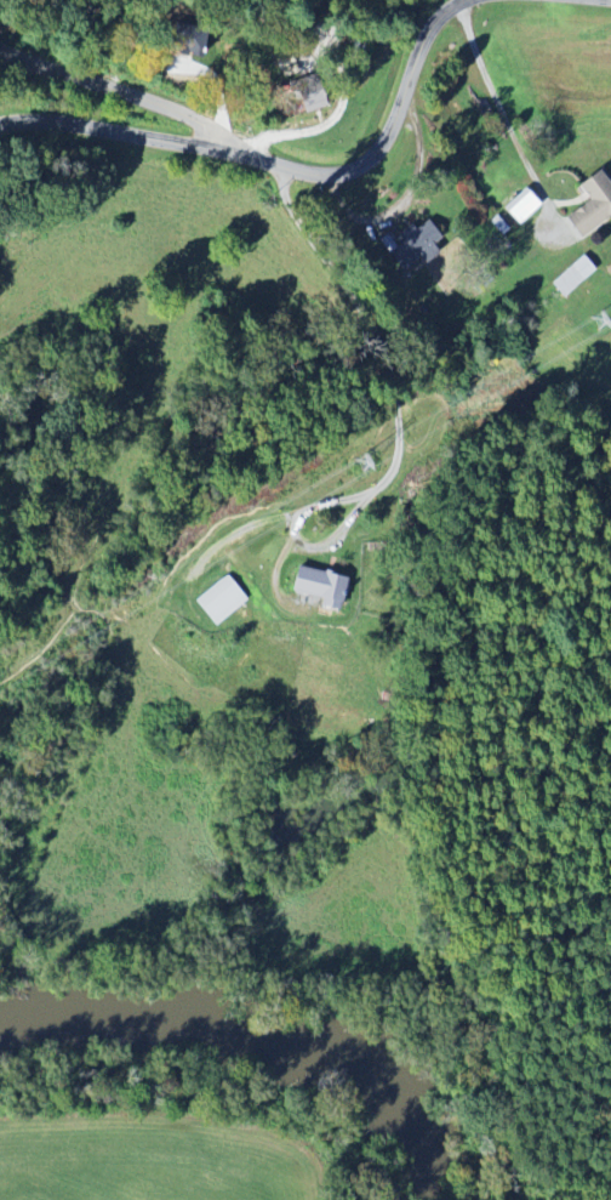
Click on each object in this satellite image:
road: (121, 99)
building: (312, 102)
road: (502, 112)
road: (278, 163)
road: (404, 197)
building: (589, 205)
building: (520, 206)
building: (411, 248)
building: (570, 277)
power tower: (596, 322)
road: (384, 362)
power tower: (365, 462)
building: (315, 588)
building: (217, 602)
river: (262, 1028)

